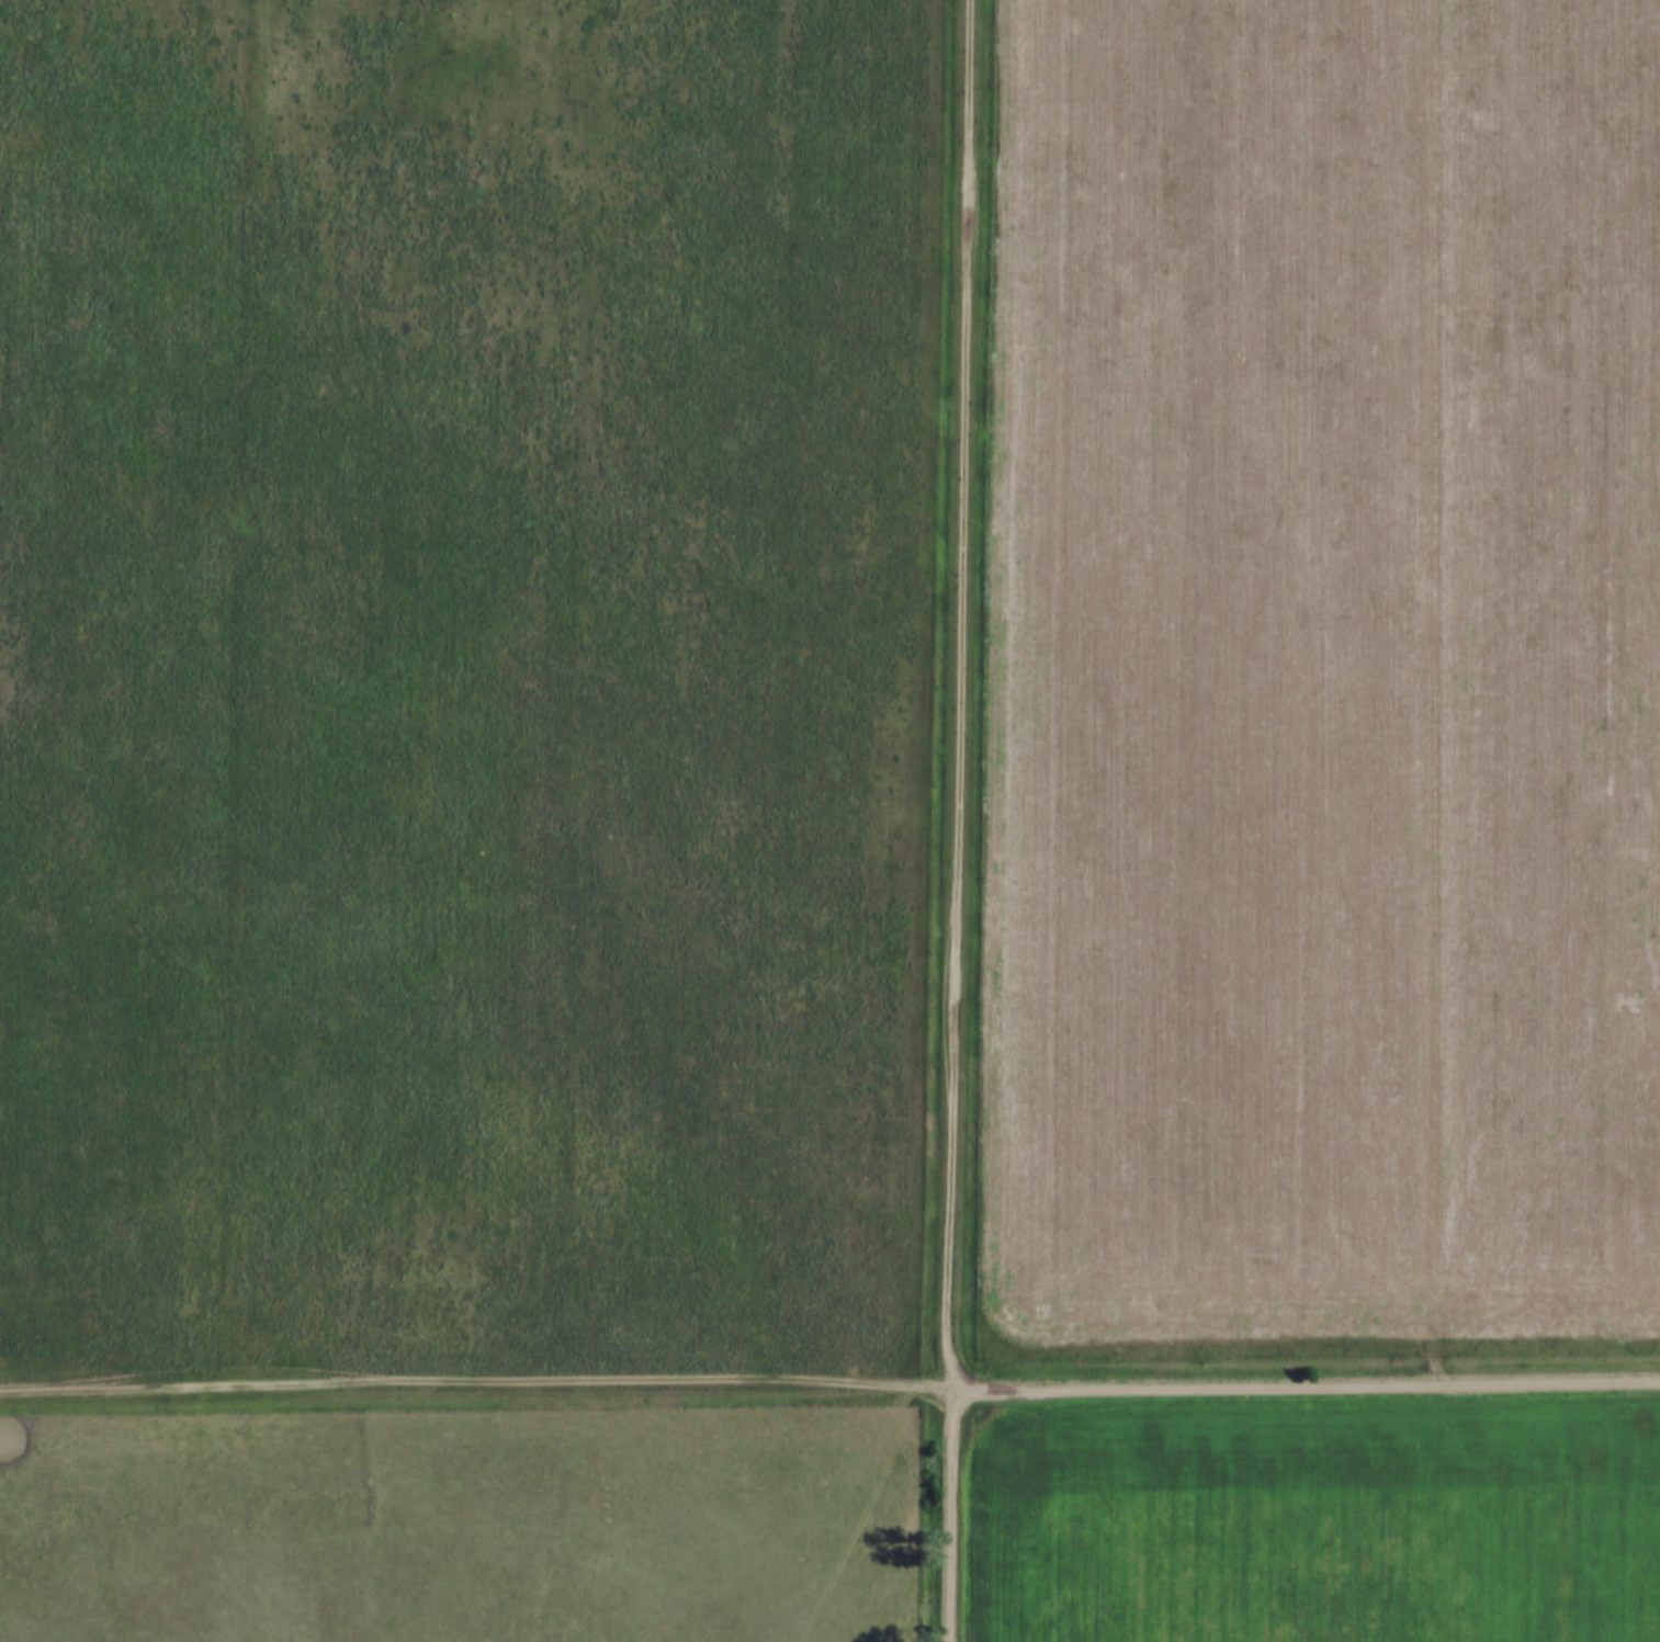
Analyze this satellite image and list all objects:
building: (1569, 123)
building: (1603, 633)
road: (960, 693)
road: (1306, 1383)
road: (475, 1391)
road: (951, 1515)

